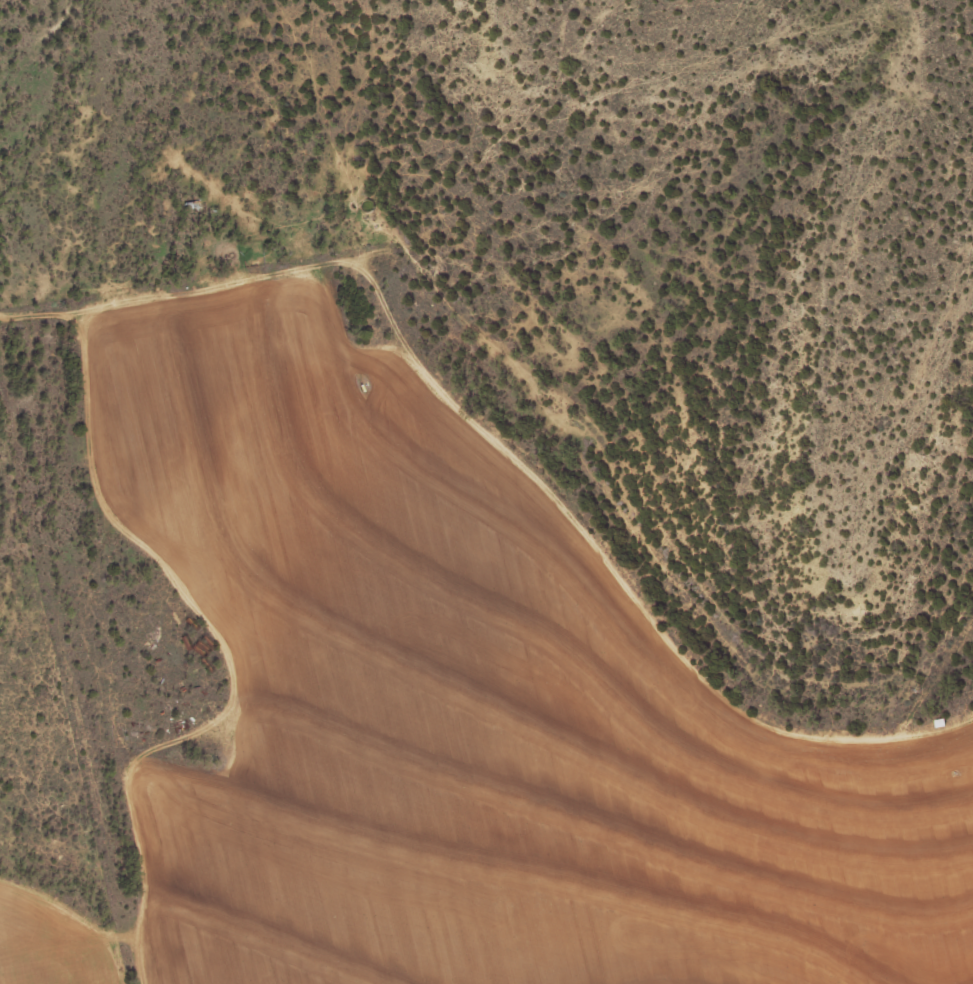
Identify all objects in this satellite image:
road: (64, 681)

